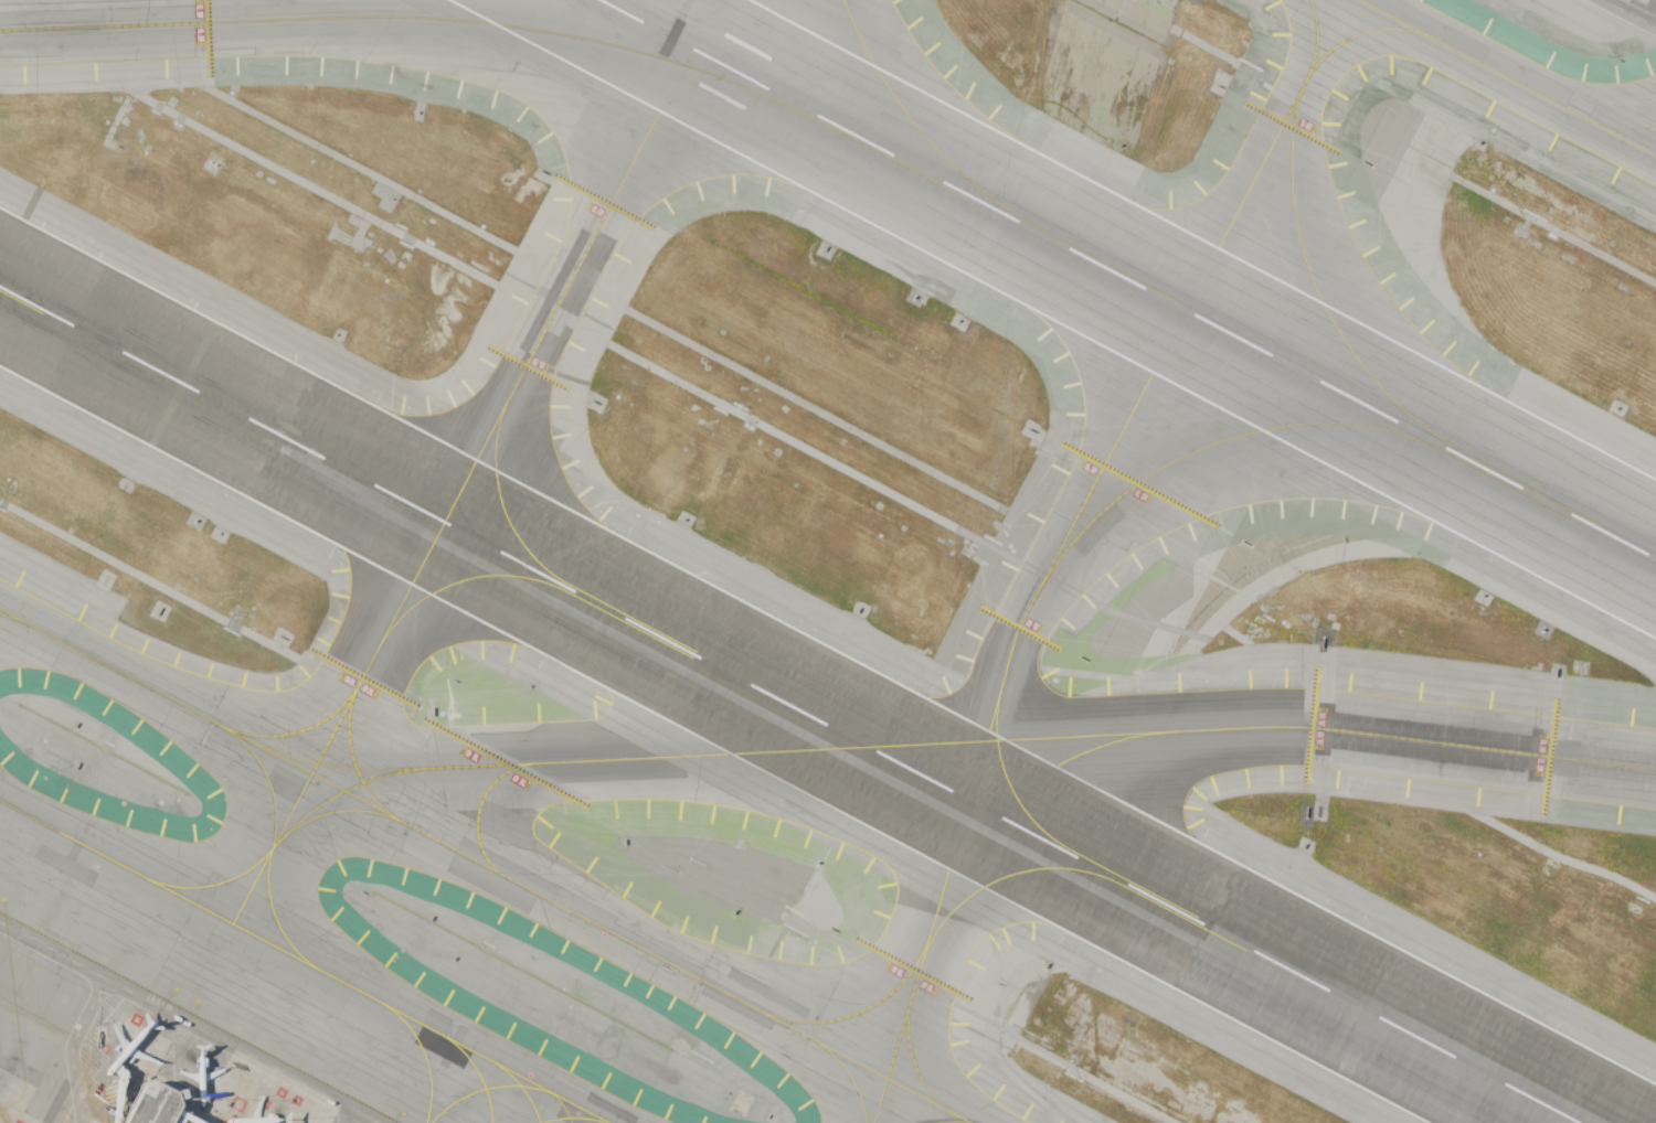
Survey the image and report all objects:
road: (1623, 17)
airport taxiway: (411, 18)
airport taxiway: (1508, 77)
airport taxiway: (927, 137)
airport runway: (1126, 279)
airport taxiway: (1442, 441)
airport taxiway: (477, 462)
airport taxiway: (1072, 523)
airport: (828, 561)
airport taxiway: (465, 577)
airport taxiway: (13, 617)
airport taxiway: (349, 696)
airport runway: (789, 704)
airport taxiway: (960, 742)
airport taxiway: (1028, 780)
airport taxiway: (1010, 788)
airport taxiway: (343, 790)
airport taxiway: (479, 805)
airport taxiway: (273, 838)
airport taxiway: (273, 844)
airport taxiway: (482, 864)
airport taxiway: (933, 937)
airport taxiway: (305, 961)
road: (187, 1023)
road: (68, 1047)
airport taxiway: (424, 1055)
airport apron: (182, 1068)
airport taxiway: (476, 1073)
airport taxiway: (920, 1074)
airport taxiway: (854, 1085)
airport taxiway: (485, 1088)
airport taxiway: (521, 1090)
airport terminal: (147, 1104)
building: (147, 1104)
airport apron: (14, 1115)
road: (348, 1116)
airport taxiway: (571, 1117)

